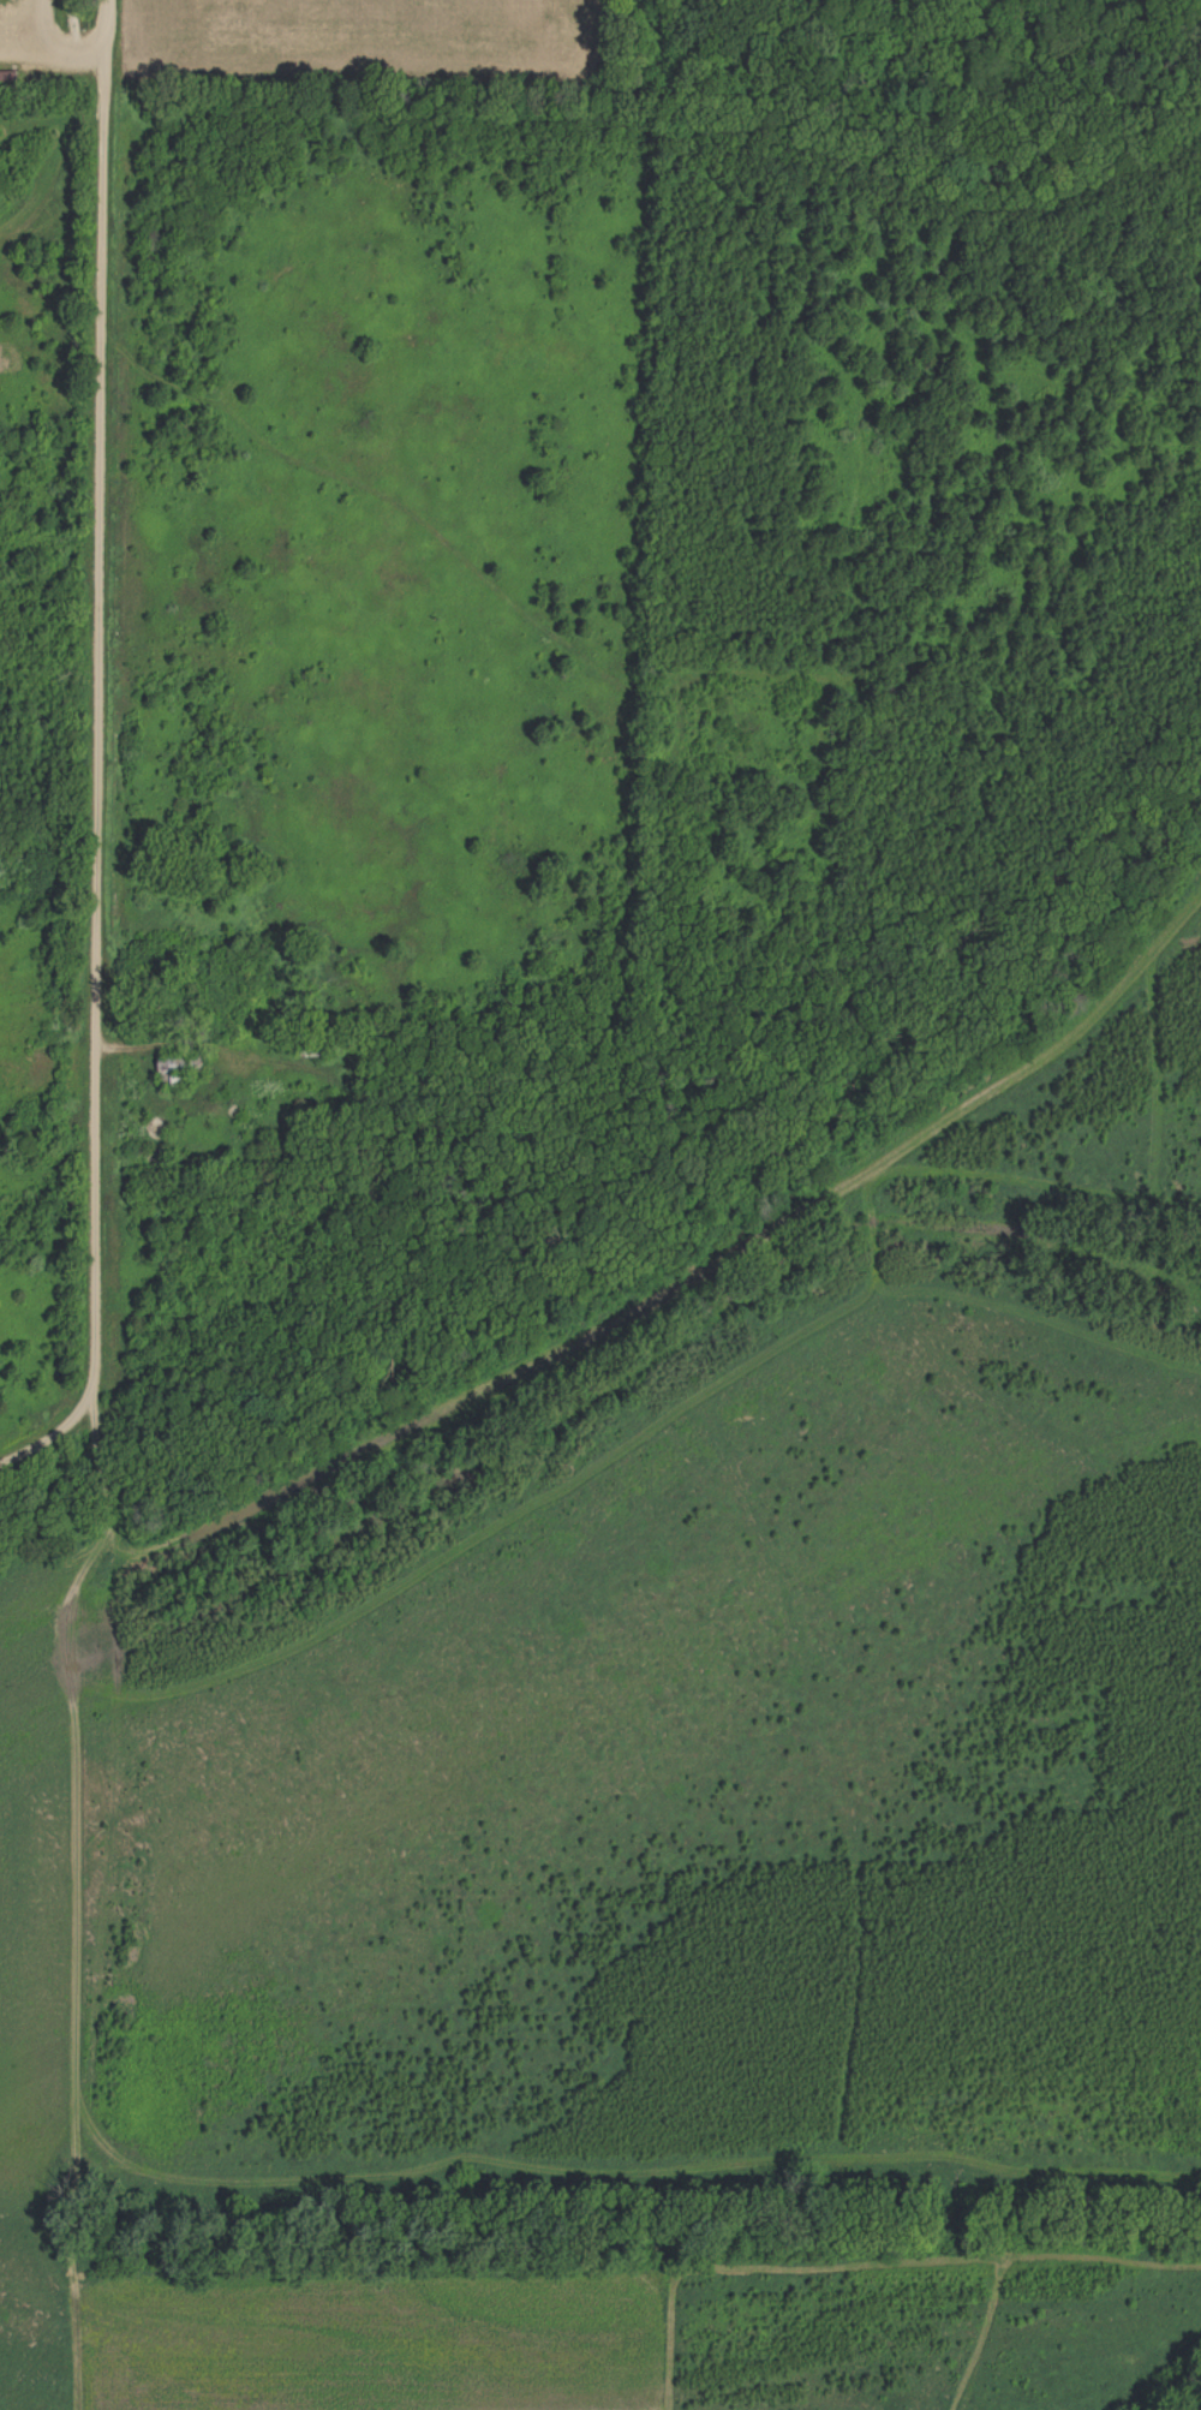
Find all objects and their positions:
road: (48, 40)
road: (95, 753)

